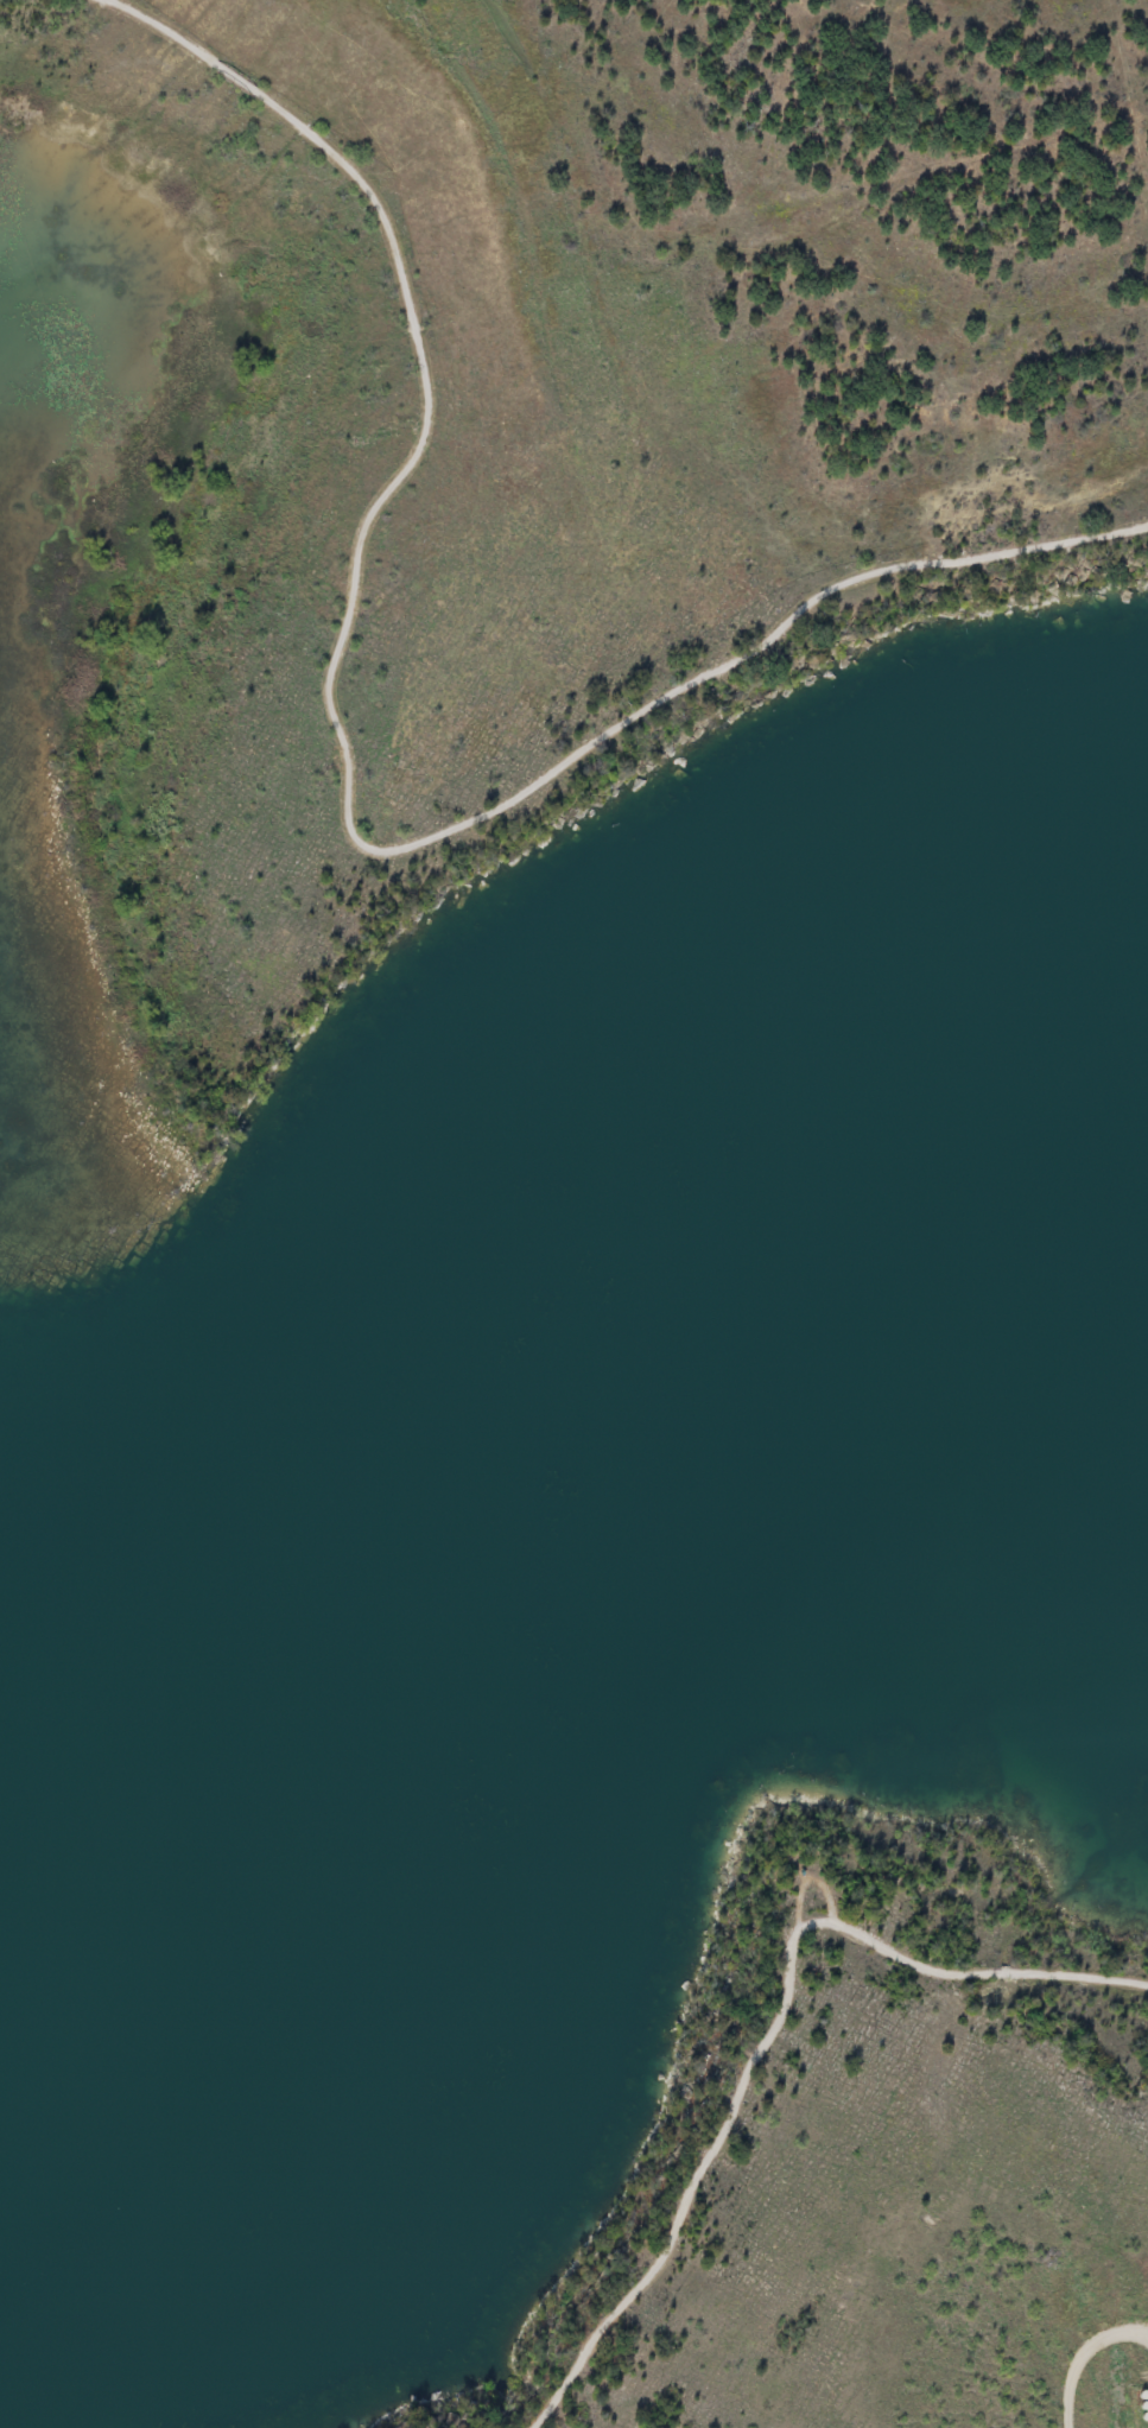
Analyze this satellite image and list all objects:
park: (559, 636)
road: (344, 775)
road: (769, 2028)

